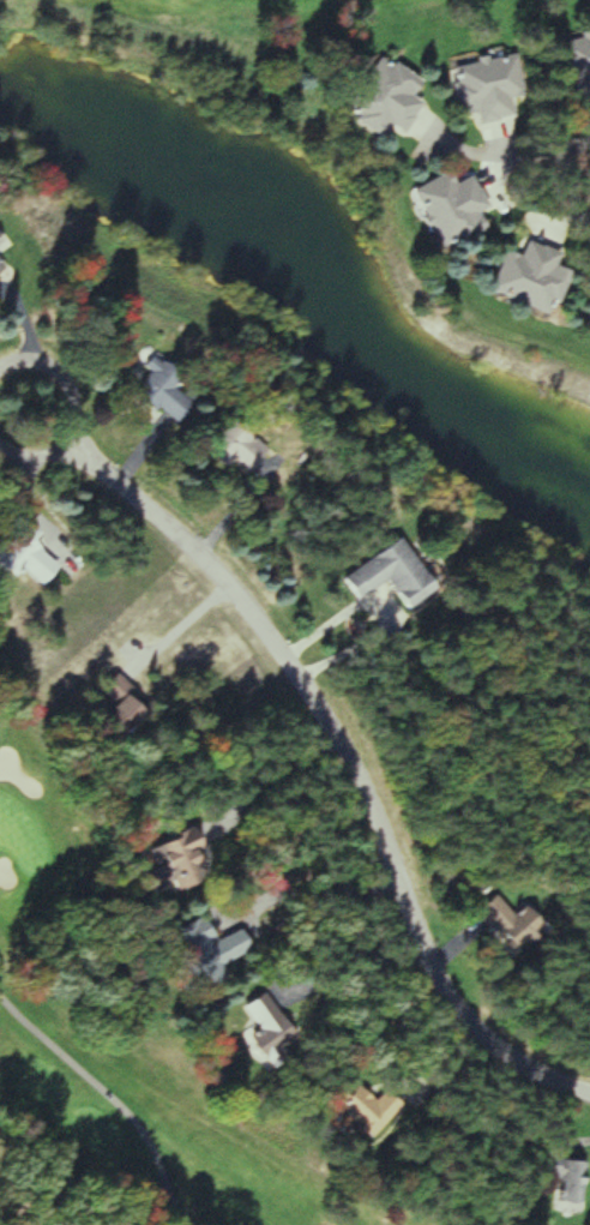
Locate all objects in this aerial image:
park: (284, 20)
building: (579, 60)
building: (492, 91)
building: (395, 102)
road: (564, 187)
building: (458, 209)
building: (5, 257)
building: (538, 281)
road: (67, 377)
building: (173, 396)
road: (42, 457)
building: (44, 560)
building: (397, 575)
building: (132, 702)
road: (350, 774)
building: (518, 921)
building: (218, 953)
building: (391, 961)
building: (275, 1031)
park: (147, 1049)
building: (420, 1093)
building: (378, 1111)

